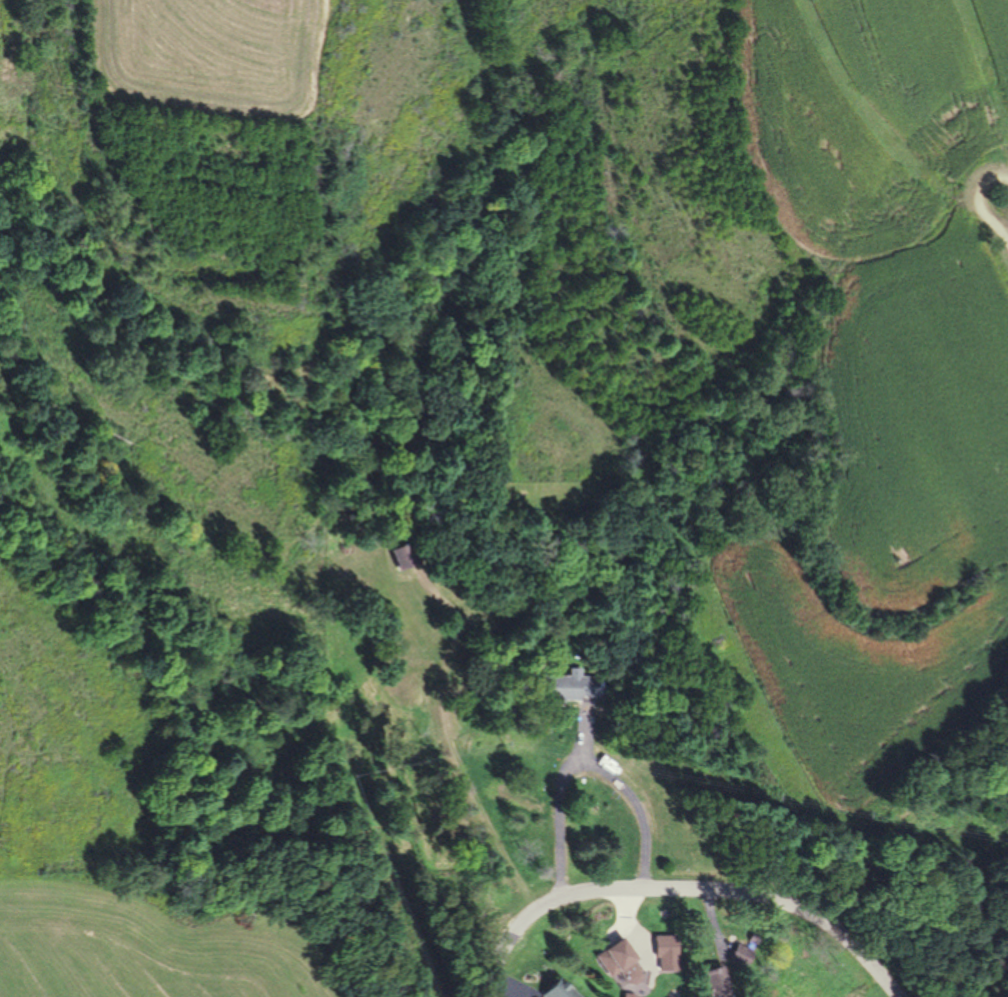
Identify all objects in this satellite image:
road: (983, 199)
building: (401, 555)
road: (684, 890)
building: (665, 945)
building: (738, 955)
building: (624, 966)
building: (715, 982)
building: (538, 989)

